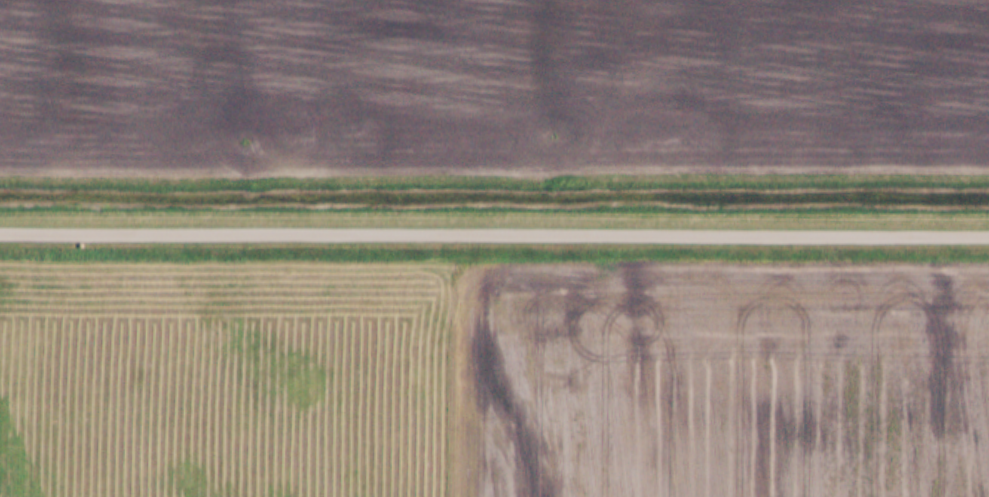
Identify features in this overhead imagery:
road: (494, 235)

